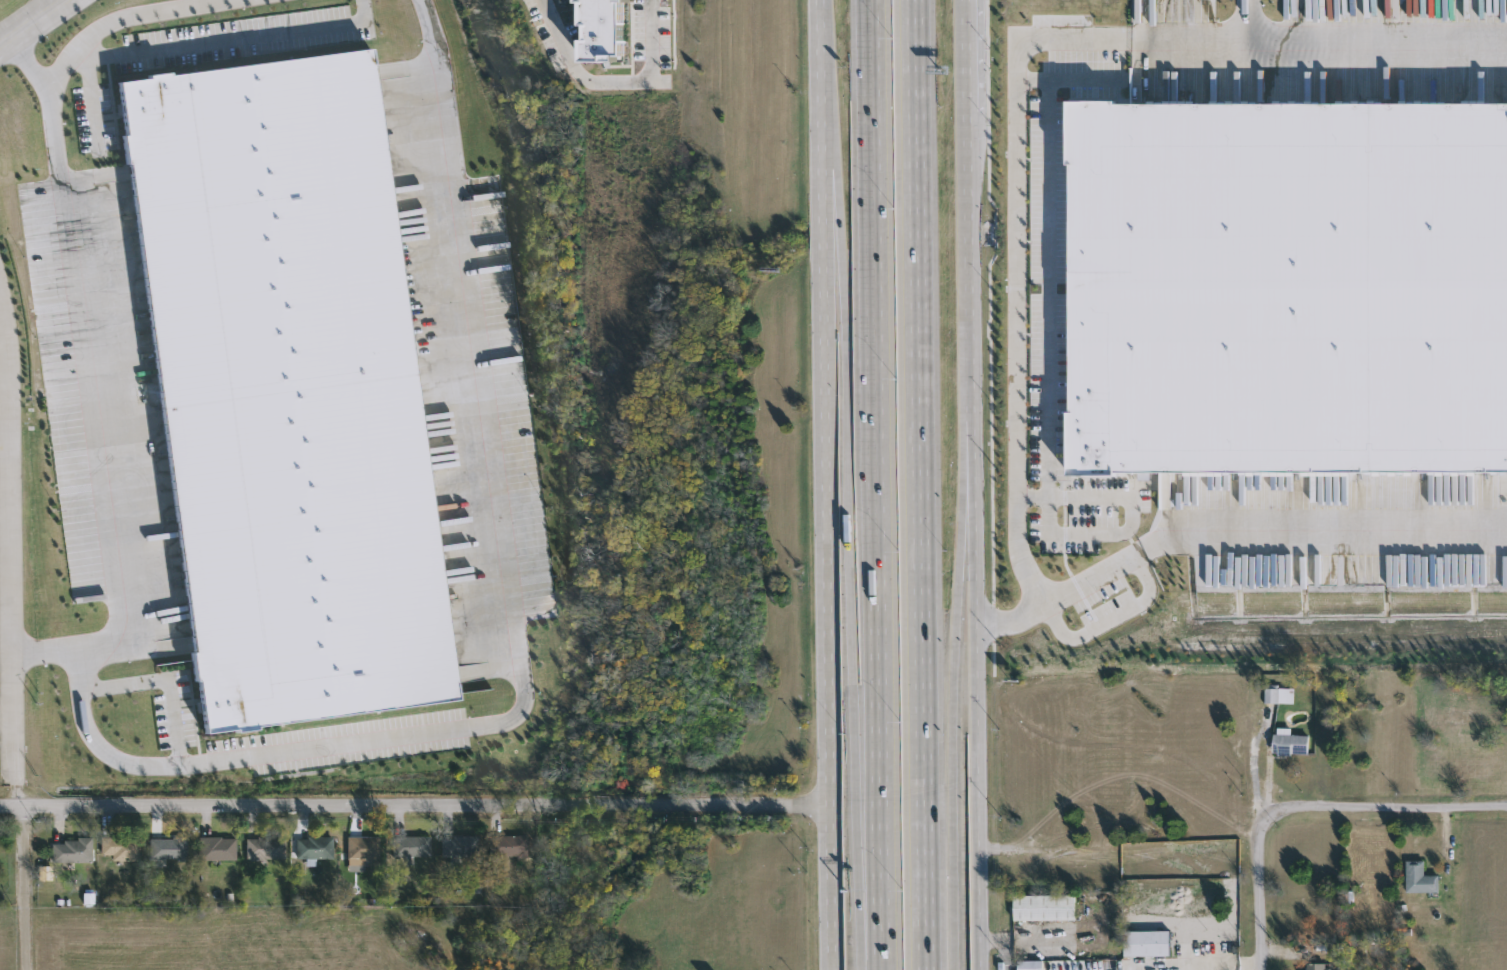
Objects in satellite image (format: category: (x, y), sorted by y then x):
road: (35, 23)
building: (602, 29)
road: (225, 39)
road: (1376, 43)
road: (1190, 44)
road: (975, 58)
road: (30, 64)
road: (611, 79)
road: (1069, 79)
road: (91, 104)
road: (973, 235)
road: (72, 283)
road: (1052, 287)
building: (1288, 287)
road: (823, 308)
building: (286, 390)
road: (847, 484)
road: (872, 485)
road: (916, 485)
road: (1137, 511)
road: (1016, 527)
road: (9, 537)
road: (1015, 614)
road: (514, 620)
road: (1112, 620)
road: (42, 651)
road: (952, 661)
road: (981, 661)
road: (166, 678)
building: (1277, 692)
road: (7, 708)
road: (826, 712)
building: (1291, 741)
road: (413, 803)
road: (1393, 809)
building: (409, 843)
building: (507, 843)
building: (458, 844)
building: (119, 845)
building: (314, 845)
building: (167, 846)
building: (216, 846)
building: (263, 846)
building: (70, 848)
building: (361, 851)
building: (1420, 875)
road: (24, 888)
road: (827, 889)
road: (1261, 889)
building: (1045, 905)
building: (1147, 941)
building: (1315, 964)

